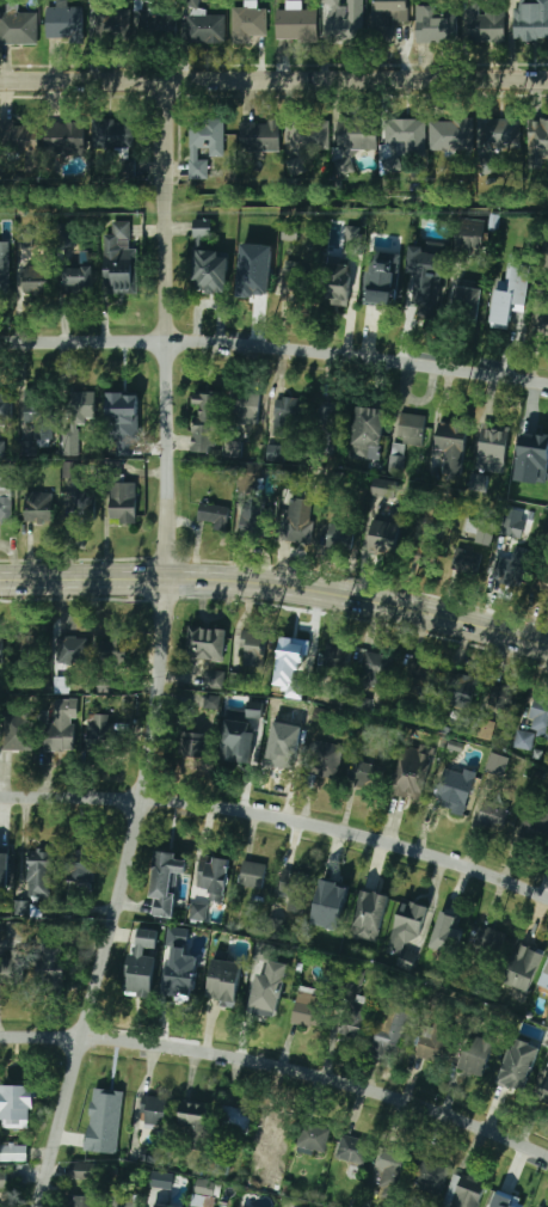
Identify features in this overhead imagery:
building: (148, 0)
building: (389, 16)
building: (63, 20)
building: (345, 20)
building: (530, 22)
building: (487, 23)
building: (247, 24)
building: (296, 24)
building: (112, 25)
building: (441, 25)
building: (18, 27)
building: (155, 27)
building: (204, 29)
road: (273, 79)
building: (111, 134)
building: (205, 134)
building: (308, 134)
building: (356, 134)
building: (498, 134)
building: (429, 135)
building: (259, 136)
building: (17, 137)
building: (64, 137)
building: (537, 143)
building: (202, 229)
building: (67, 235)
building: (351, 237)
building: (469, 237)
building: (119, 261)
building: (254, 270)
building: (211, 272)
building: (4, 277)
building: (426, 277)
building: (383, 278)
building: (76, 280)
building: (35, 281)
building: (295, 282)
building: (338, 284)
building: (511, 294)
building: (464, 304)
building: (542, 321)
road: (275, 348)
building: (4, 406)
building: (99, 406)
building: (245, 408)
building: (37, 412)
building: (291, 413)
building: (325, 418)
building: (123, 422)
building: (207, 423)
building: (370, 424)
building: (410, 429)
building: (535, 446)
building: (2, 448)
building: (29, 448)
building: (452, 448)
building: (492, 449)
building: (396, 459)
building: (68, 467)
building: (115, 471)
building: (291, 480)
building: (479, 482)
building: (384, 488)
building: (5, 501)
building: (122, 503)
building: (37, 507)
building: (81, 507)
building: (211, 513)
building: (254, 520)
building: (296, 521)
building: (511, 527)
building: (478, 532)
building: (338, 537)
building: (383, 538)
building: (425, 550)
building: (466, 563)
building: (505, 574)
building: (542, 582)
road: (277, 587)
building: (204, 644)
building: (0, 649)
building: (29, 649)
building: (70, 650)
road: (159, 650)
building: (252, 650)
building: (294, 650)
building: (113, 651)
building: (334, 658)
building: (374, 670)
building: (417, 676)
building: (213, 679)
building: (460, 692)
building: (503, 697)
building: (211, 701)
building: (538, 709)
building: (300, 717)
building: (63, 724)
building: (486, 729)
building: (16, 731)
building: (97, 733)
building: (238, 740)
building: (523, 740)
building: (195, 743)
building: (279, 758)
building: (321, 760)
building: (498, 764)
building: (364, 776)
building: (408, 789)
building: (451, 794)
building: (492, 815)
road: (279, 816)
building: (535, 819)
building: (4, 860)
building: (38, 868)
building: (79, 868)
building: (168, 872)
building: (251, 875)
building: (216, 880)
building: (294, 890)
building: (331, 905)
building: (196, 912)
building: (370, 914)
building: (13, 931)
building: (445, 931)
building: (406, 932)
building: (149, 938)
building: (488, 941)
building: (51, 967)
building: (523, 967)
building: (14, 968)
building: (353, 969)
building: (543, 978)
building: (226, 980)
building: (178, 982)
building: (138, 986)
building: (270, 990)
building: (307, 1013)
building: (355, 1019)
building: (389, 1033)
building: (436, 1040)
building: (478, 1053)
building: (519, 1065)
road: (279, 1067)
building: (543, 1091)
building: (19, 1103)
building: (153, 1110)
building: (233, 1120)
building: (193, 1122)
building: (272, 1134)
building: (100, 1138)
building: (313, 1138)
building: (351, 1148)
building: (13, 1153)
building: (218, 1168)
building: (81, 1170)
building: (390, 1175)
building: (429, 1176)
building: (160, 1180)
building: (2, 1181)
building: (203, 1189)
building: (462, 1193)
building: (121, 1200)
building: (504, 1200)
building: (76, 1201)
building: (160, 1206)
building: (291, 1206)
building: (296, 1206)
building: (540, 1206)

